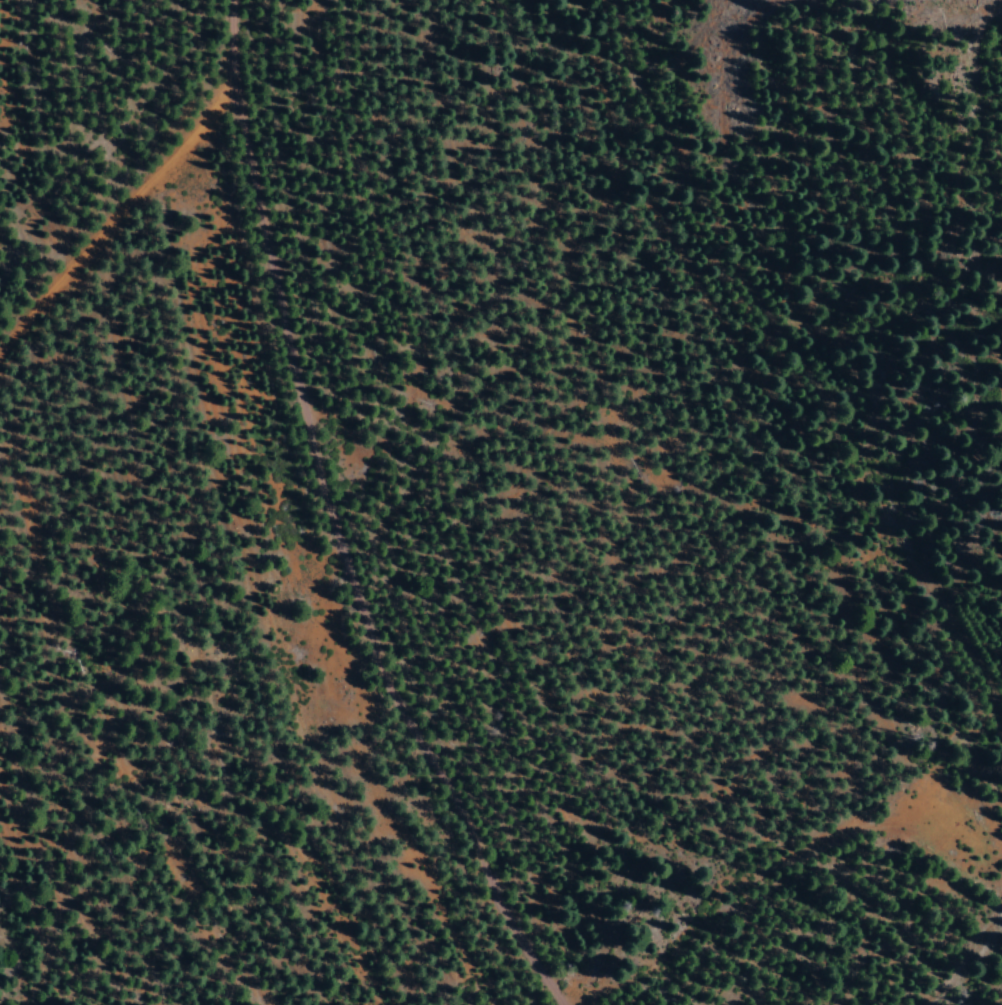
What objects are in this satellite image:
road: (111, 233)
road: (335, 520)

